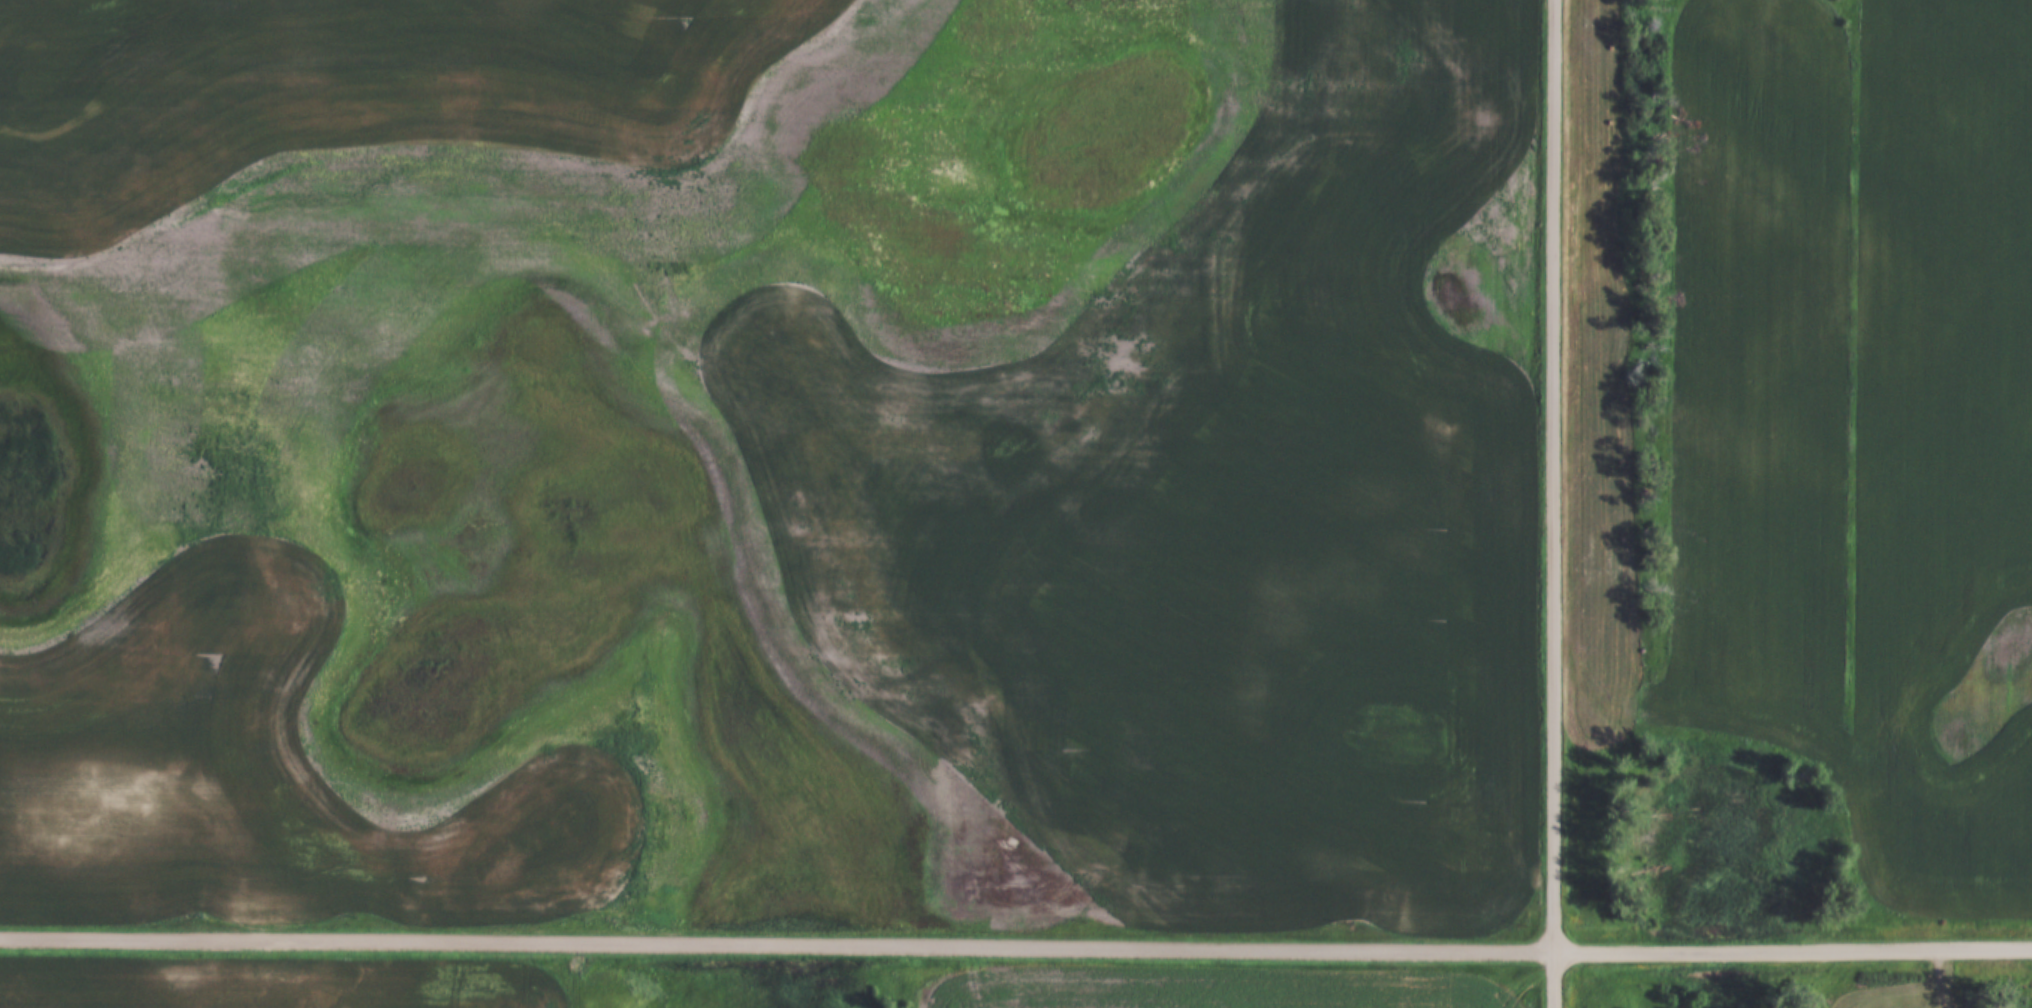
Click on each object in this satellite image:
road: (1559, 504)
road: (779, 946)
road: (1795, 949)
road: (1944, 978)

